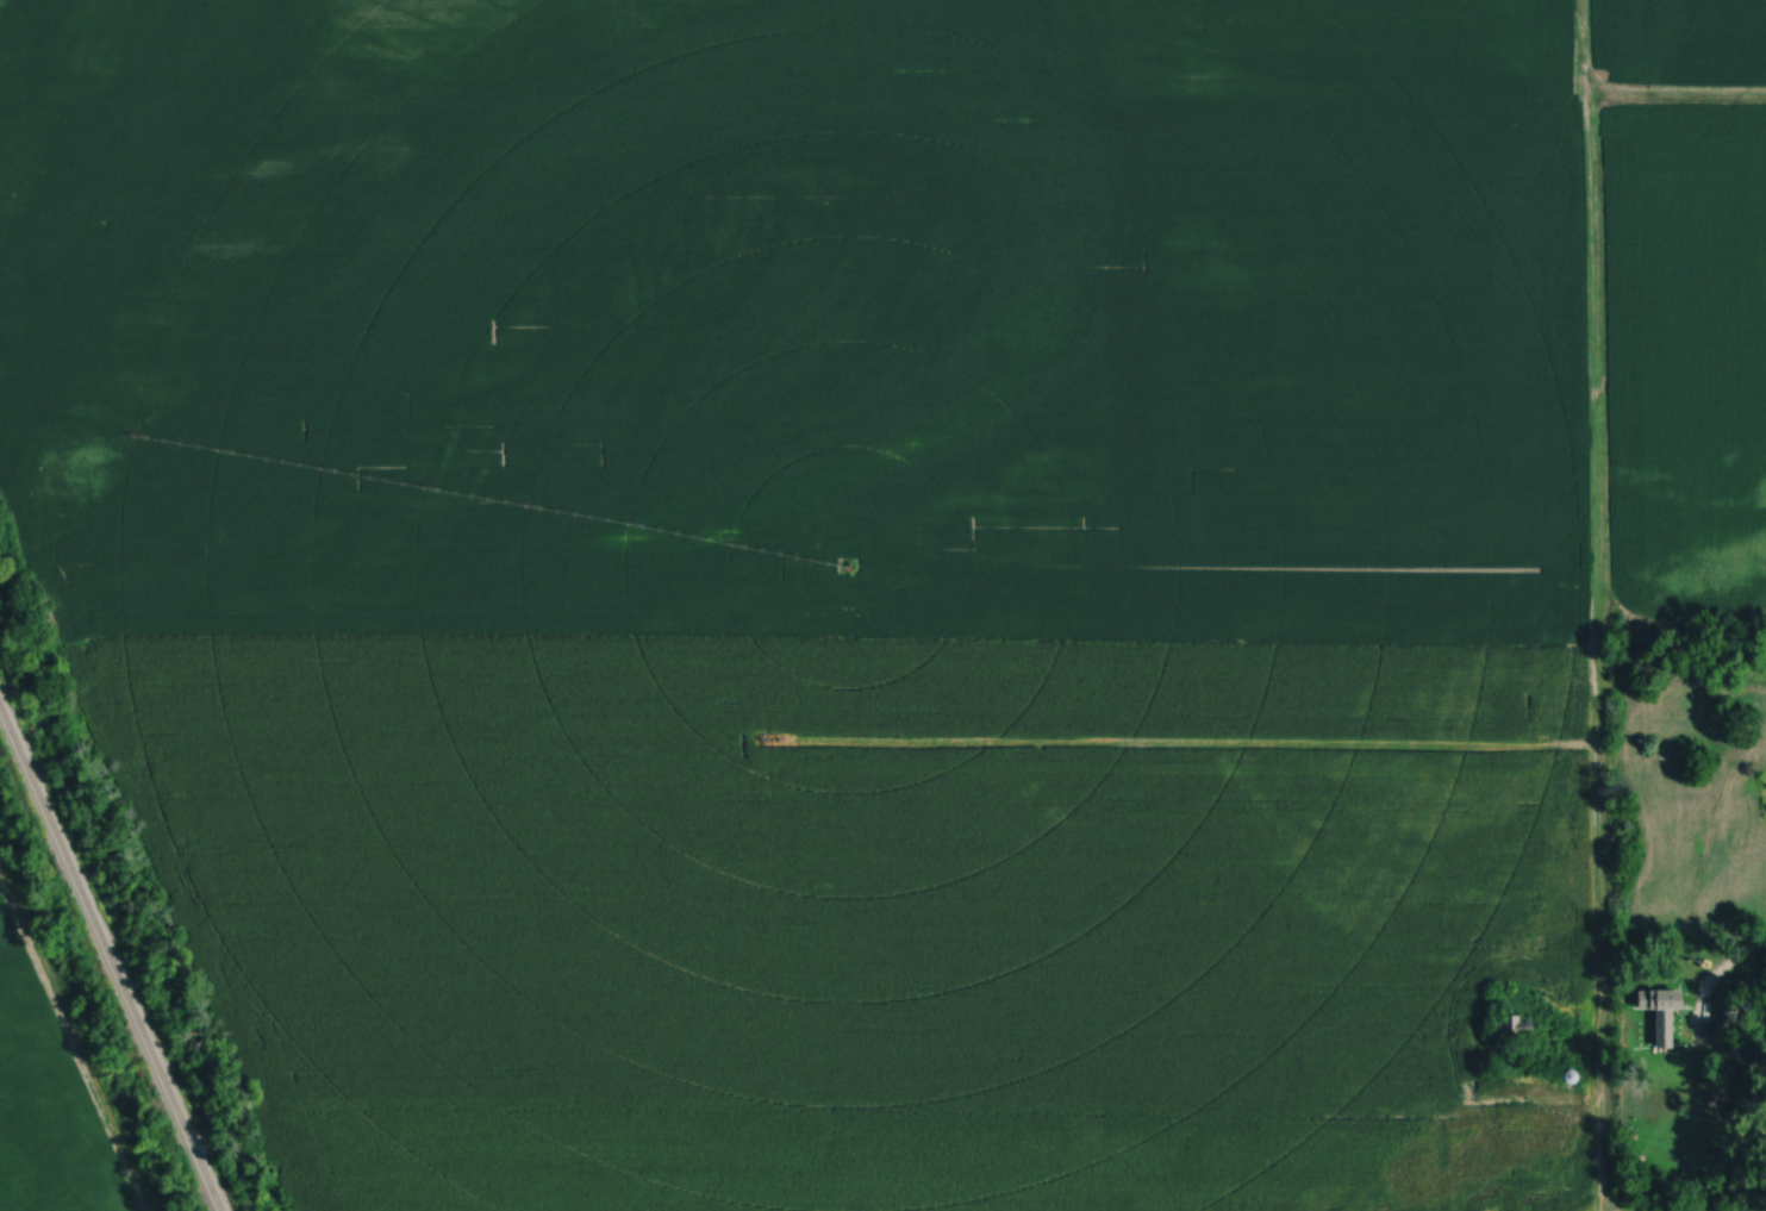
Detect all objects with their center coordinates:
railway: (112, 956)
building: (1521, 1029)

